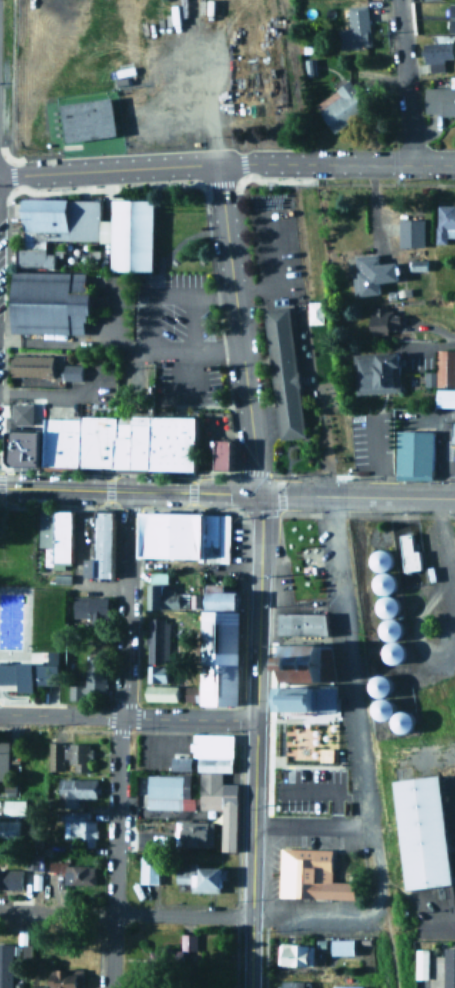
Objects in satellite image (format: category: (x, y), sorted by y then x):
building: (450, 15)
building: (355, 29)
building: (237, 40)
building: (437, 53)
building: (160, 74)
road: (404, 81)
building: (440, 100)
building: (341, 107)
building: (259, 114)
building: (89, 121)
road: (376, 164)
road: (148, 170)
building: (444, 223)
building: (409, 232)
building: (86, 233)
building: (371, 273)
road: (189, 299)
building: (51, 303)
building: (313, 311)
building: (385, 320)
road: (430, 327)
road: (237, 330)
road: (119, 341)
building: (33, 366)
building: (70, 370)
building: (285, 372)
building: (377, 372)
building: (446, 378)
building: (19, 410)
building: (452, 432)
building: (120, 442)
building: (17, 445)
building: (217, 453)
building: (225, 454)
building: (415, 454)
road: (377, 456)
road: (128, 491)
road: (291, 495)
road: (390, 496)
building: (162, 533)
building: (53, 534)
building: (215, 536)
building: (90, 542)
building: (405, 552)
building: (164, 594)
road: (127, 603)
building: (381, 604)
building: (87, 605)
road: (26, 619)
park: (21, 620)
building: (297, 621)
building: (157, 640)
building: (213, 646)
building: (302, 661)
building: (28, 671)
road: (350, 671)
building: (157, 673)
building: (89, 680)
road: (54, 693)
building: (163, 693)
building: (298, 697)
road: (27, 701)
building: (381, 703)
road: (0, 706)
road: (60, 714)
road: (188, 717)
road: (254, 740)
building: (69, 756)
building: (3, 760)
building: (178, 762)
building: (218, 781)
road: (326, 788)
building: (76, 791)
building: (170, 791)
building: (13, 807)
road: (311, 823)
building: (78, 825)
building: (9, 830)
building: (425, 831)
building: (199, 836)
road: (114, 851)
building: (33, 862)
building: (149, 870)
building: (310, 874)
building: (79, 876)
building: (201, 877)
building: (10, 879)
road: (124, 913)
road: (435, 923)
building: (188, 942)
building: (342, 947)
building: (295, 954)
building: (161, 958)
building: (419, 962)
building: (5, 965)
building: (448, 966)
building: (64, 978)
building: (294, 985)
building: (347, 987)

